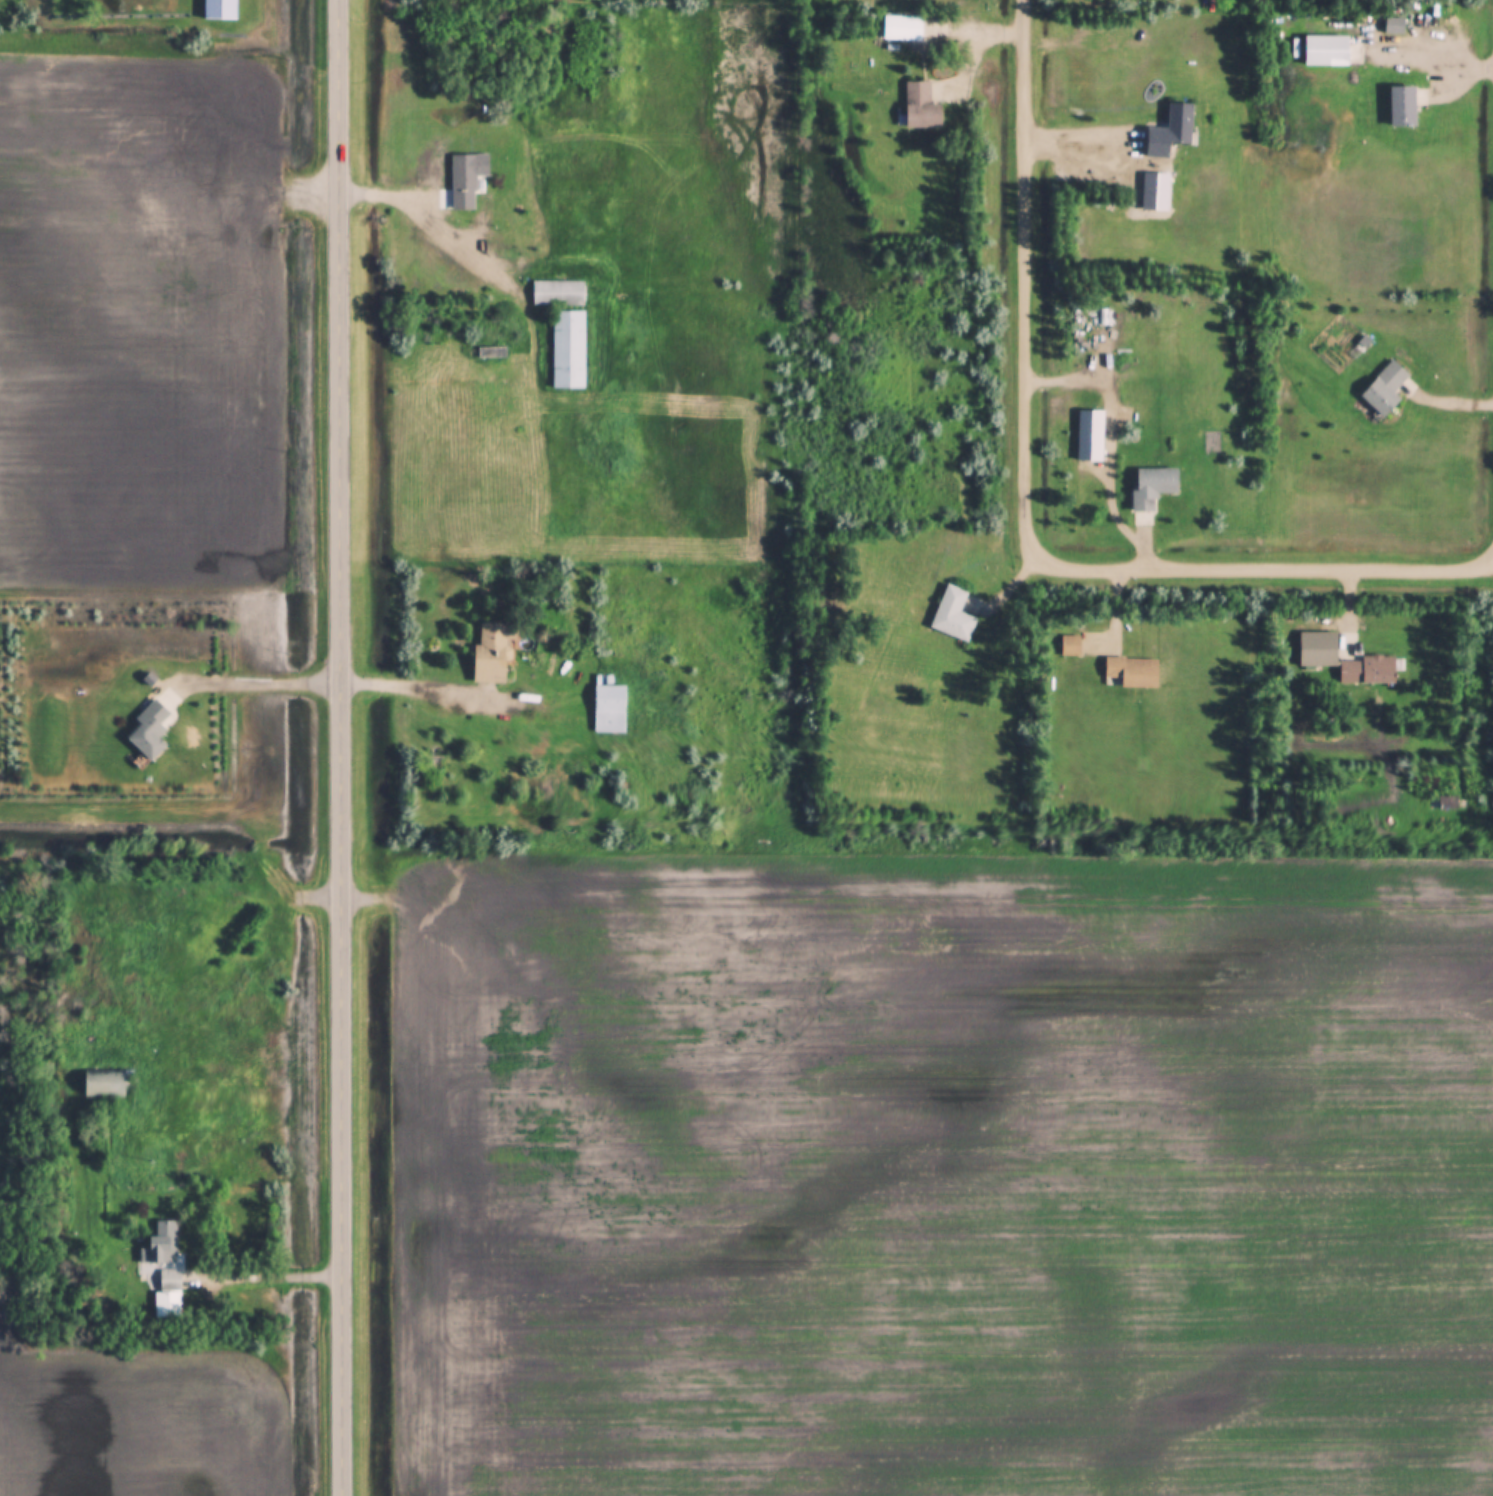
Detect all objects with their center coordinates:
building: (220, 10)
building: (905, 30)
building: (1326, 52)
building: (921, 107)
building: (1402, 108)
building: (1171, 132)
building: (466, 181)
building: (558, 294)
crop: (139, 321)
building: (568, 350)
building: (1385, 389)
building: (1090, 435)
building: (1153, 487)
road: (1028, 504)
building: (953, 615)
building: (1070, 646)
building: (1318, 649)
building: (492, 656)
building: (1127, 670)
building: (1367, 670)
road: (424, 688)
building: (609, 706)
building: (150, 731)
road: (343, 747)
road: (242, 959)
building: (106, 1083)
crop: (939, 1176)
building: (164, 1244)
road: (272, 1272)
building: (168, 1295)
crop: (142, 1424)

